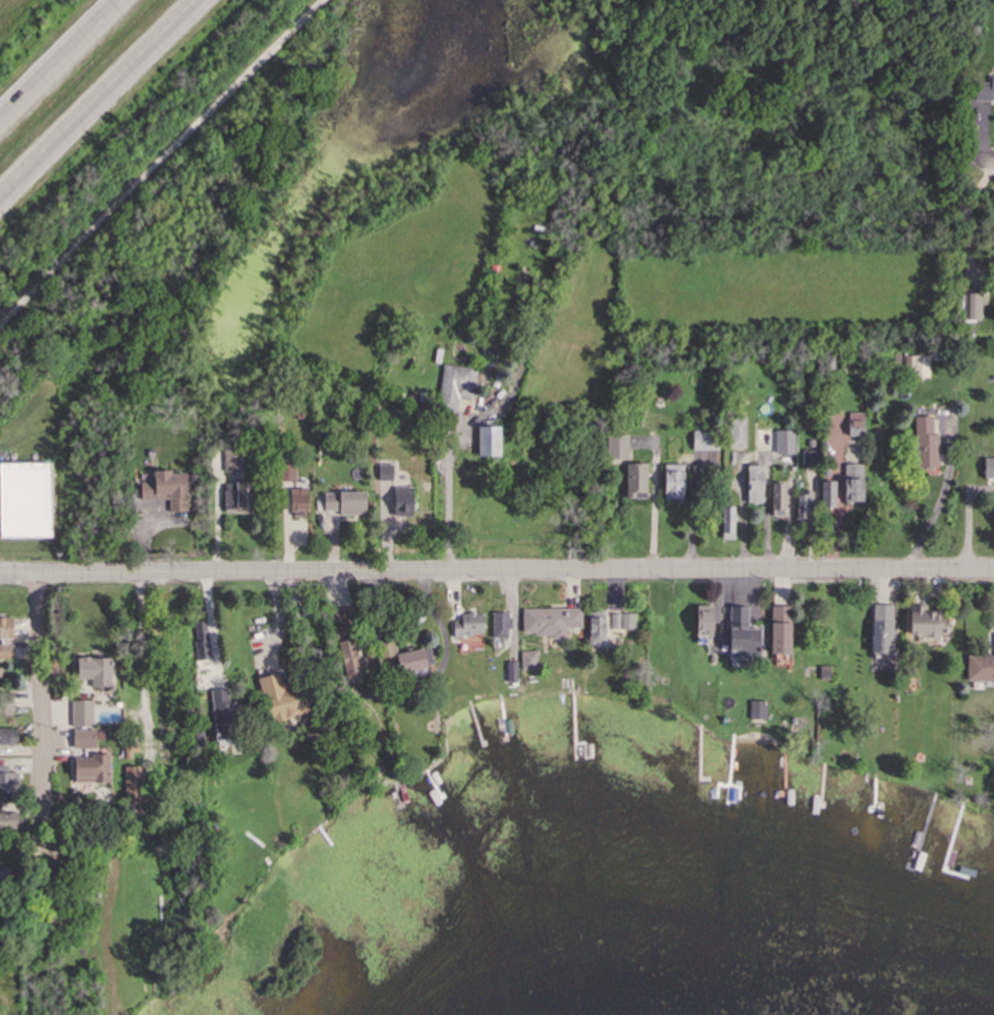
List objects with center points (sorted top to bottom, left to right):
road: (69, 67)
building: (985, 91)
road: (105, 104)
road: (978, 160)
road: (159, 162)
building: (975, 309)
building: (920, 368)
building: (457, 389)
building: (857, 426)
building: (738, 436)
building: (764, 437)
building: (490, 443)
building: (706, 443)
building: (927, 446)
building: (618, 449)
building: (989, 470)
building: (637, 483)
building: (675, 484)
building: (855, 485)
building: (756, 487)
building: (168, 492)
road: (942, 495)
building: (829, 496)
building: (240, 497)
road: (446, 498)
building: (779, 501)
building: (299, 502)
building: (404, 504)
building: (347, 505)
building: (807, 508)
road: (217, 515)
building: (22, 516)
parking lot: (3, 517)
building: (729, 525)
road: (496, 570)
road: (277, 622)
building: (553, 623)
road: (211, 625)
building: (623, 625)
building: (930, 625)
building: (503, 626)
building: (469, 627)
building: (705, 627)
building: (883, 628)
building: (6, 630)
building: (598, 630)
building: (782, 632)
building: (744, 635)
building: (6, 654)
building: (350, 659)
building: (406, 659)
road: (142, 664)
building: (980, 670)
building: (96, 674)
road: (38, 698)
building: (283, 701)
building: (6, 704)
building: (82, 716)
building: (225, 717)
building: (9, 739)
building: (84, 742)
building: (102, 770)
building: (8, 783)
building: (135, 789)
building: (10, 824)

